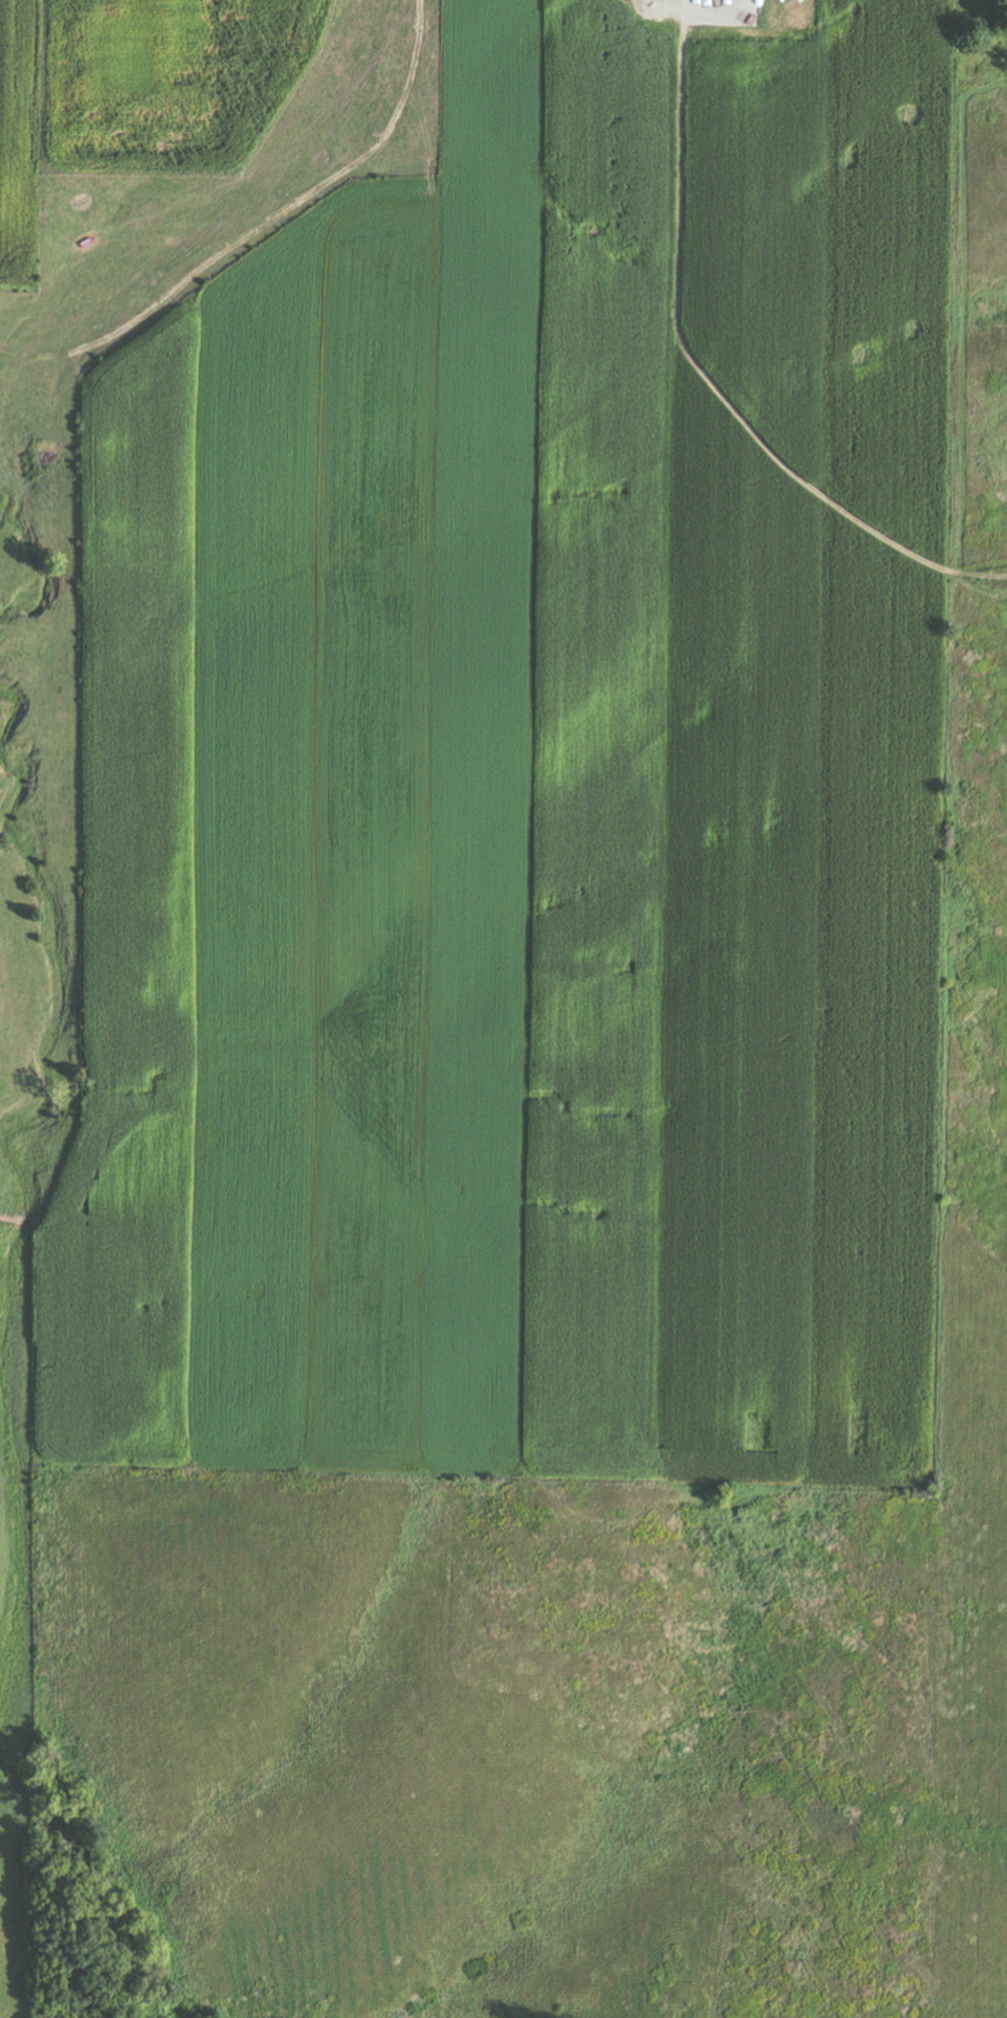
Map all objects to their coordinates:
road: (700, 372)

